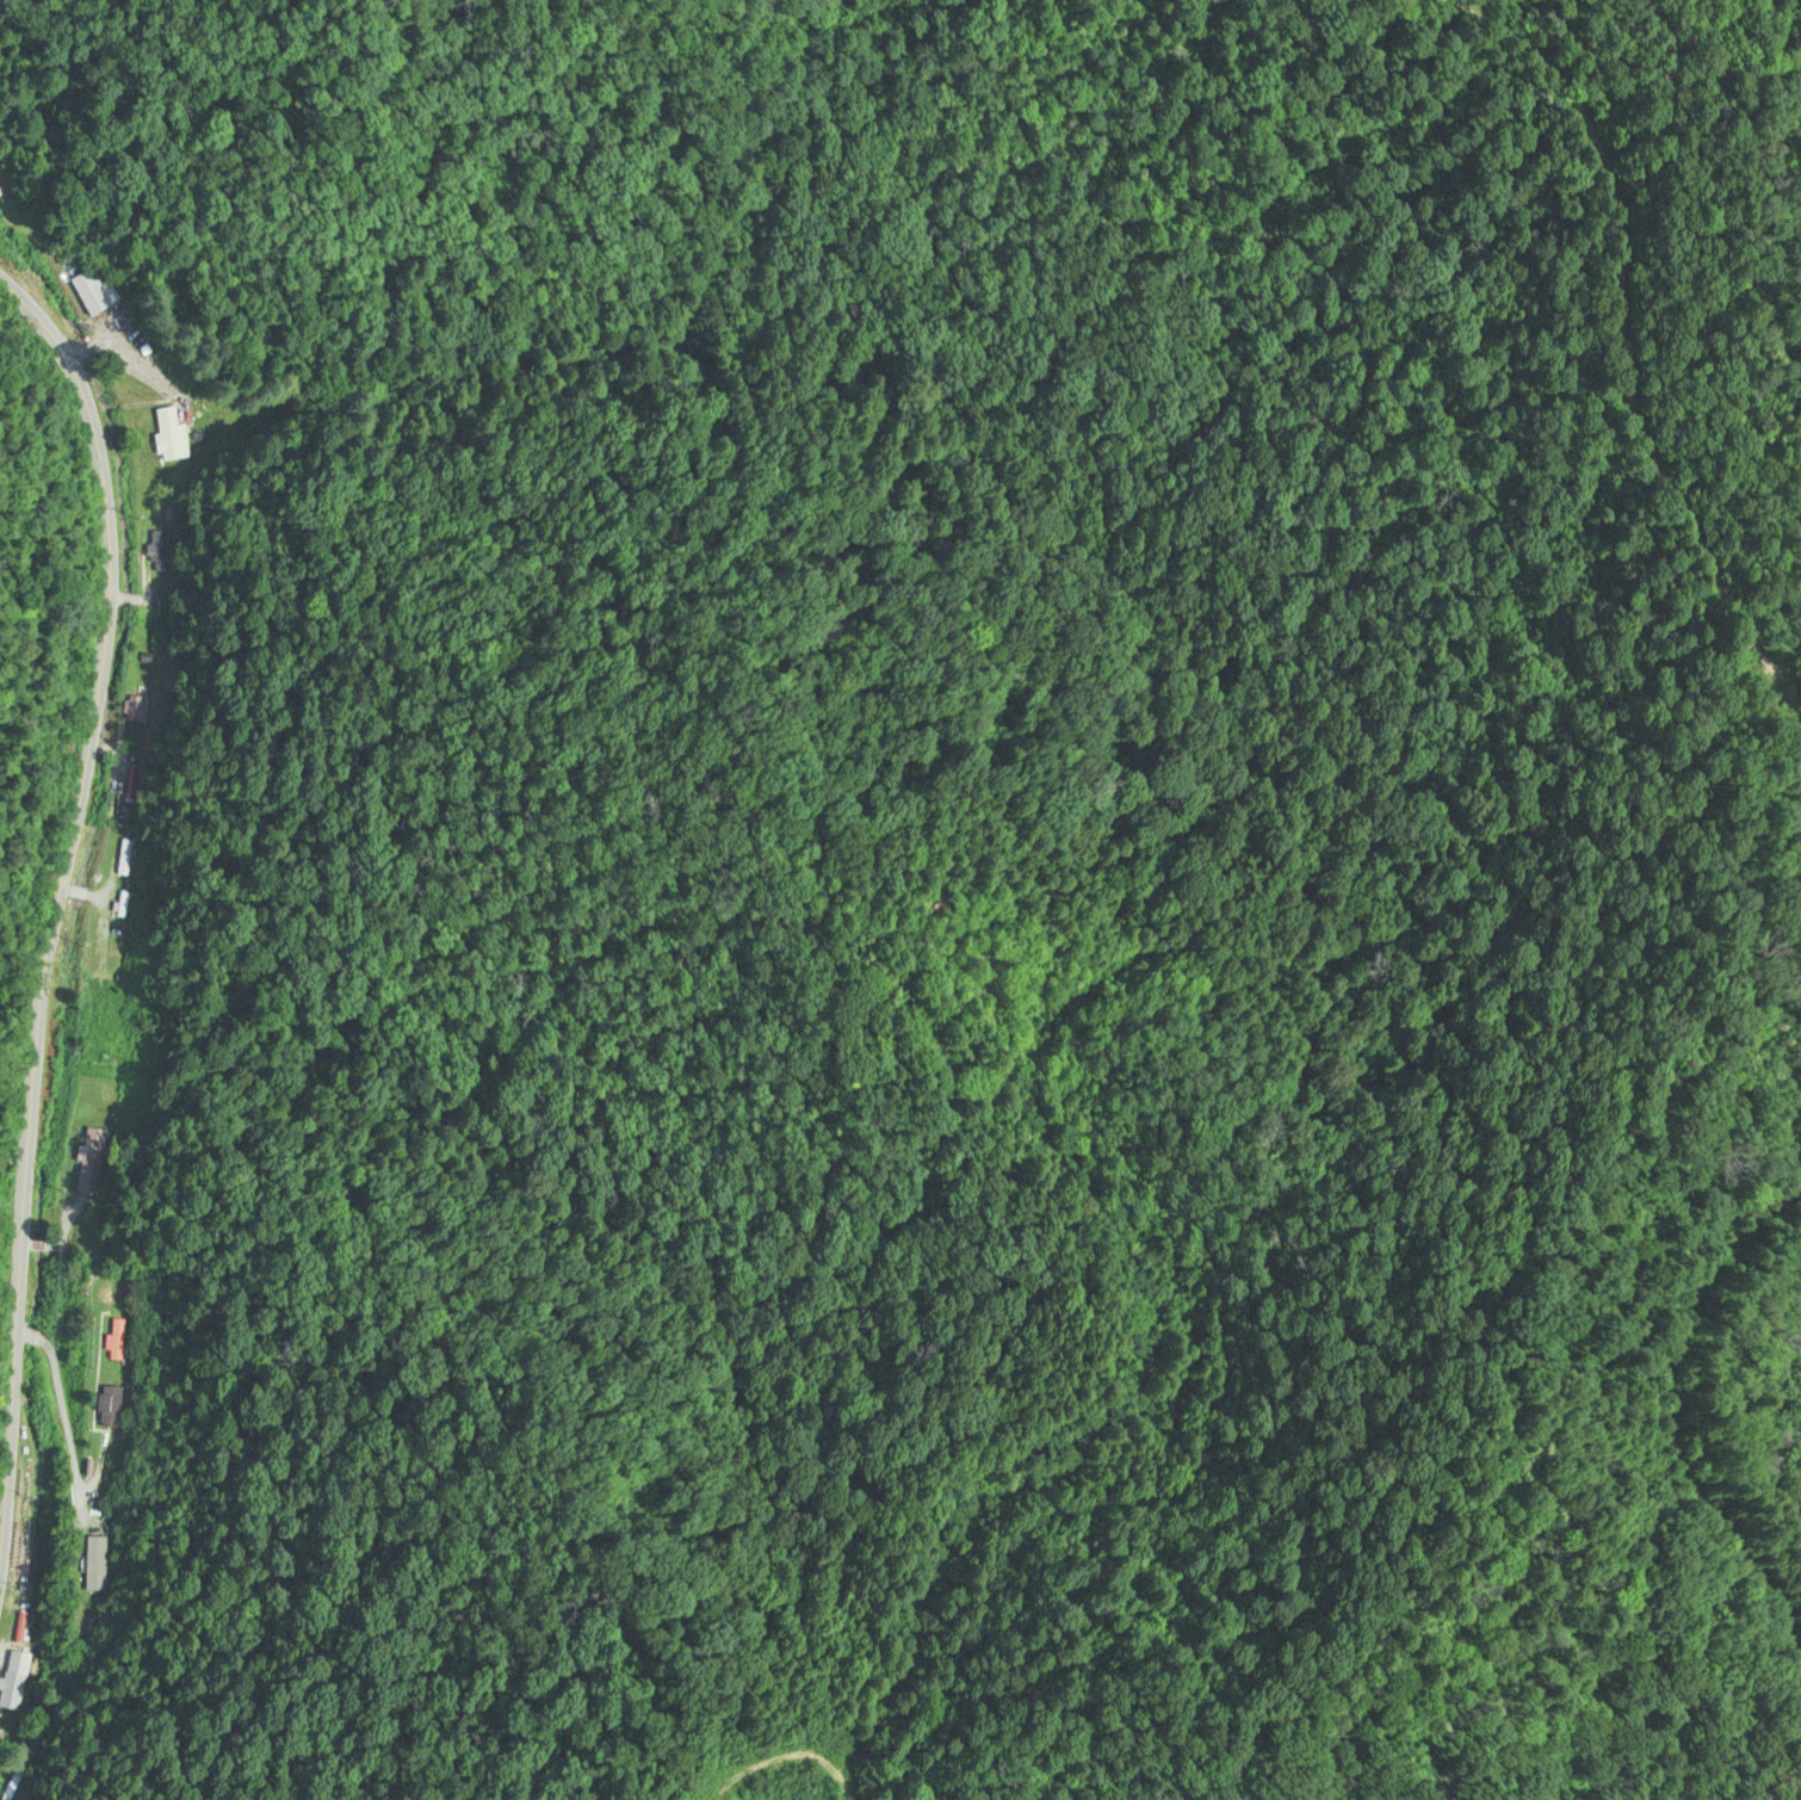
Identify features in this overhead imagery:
building: (88, 289)
building: (172, 434)
building: (156, 552)
road: (57, 903)
building: (116, 1340)
building: (110, 1406)
building: (11, 1680)

